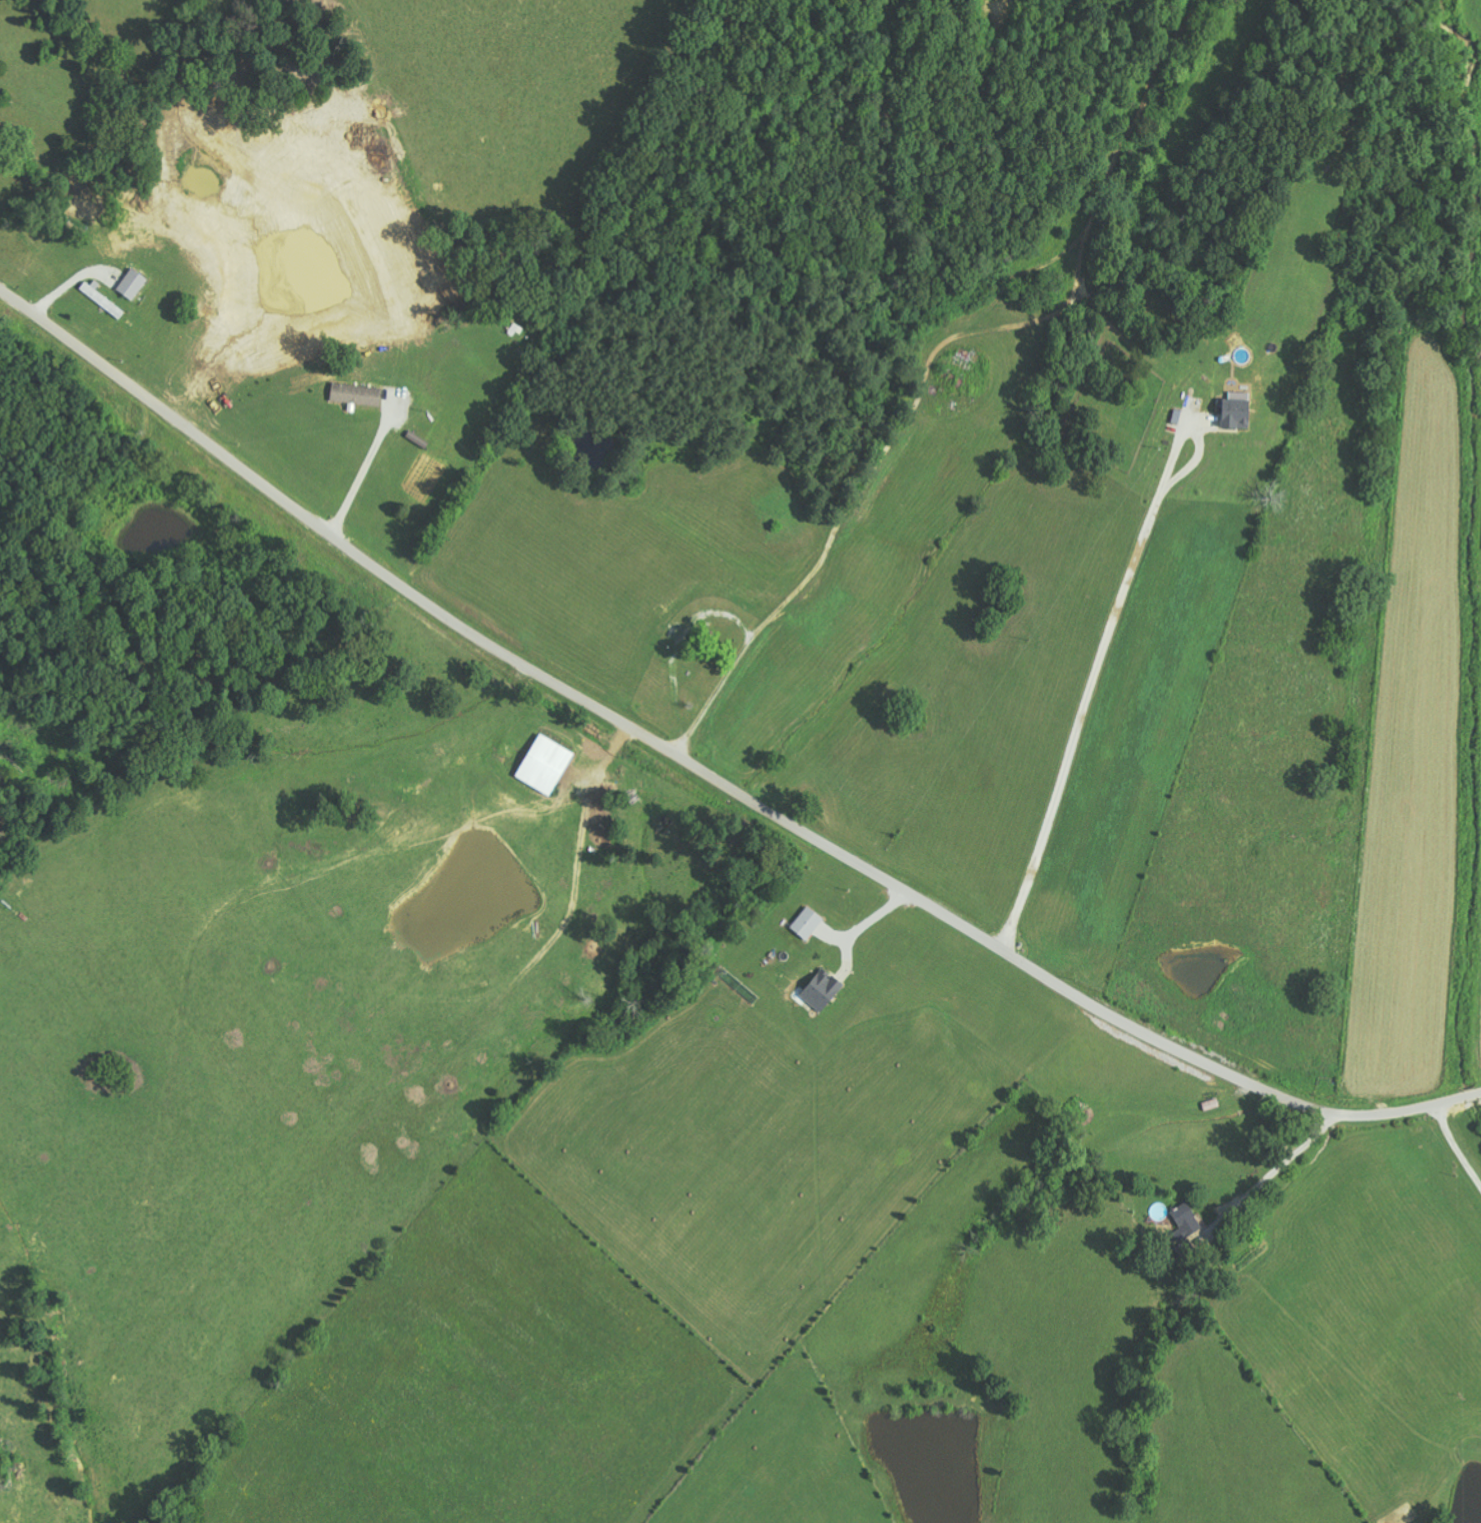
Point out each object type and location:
building: (133, 284)
building: (105, 302)
building: (358, 394)
building: (1238, 414)
building: (547, 765)
road: (709, 774)
building: (809, 923)
building: (823, 991)
building: (1186, 1218)

